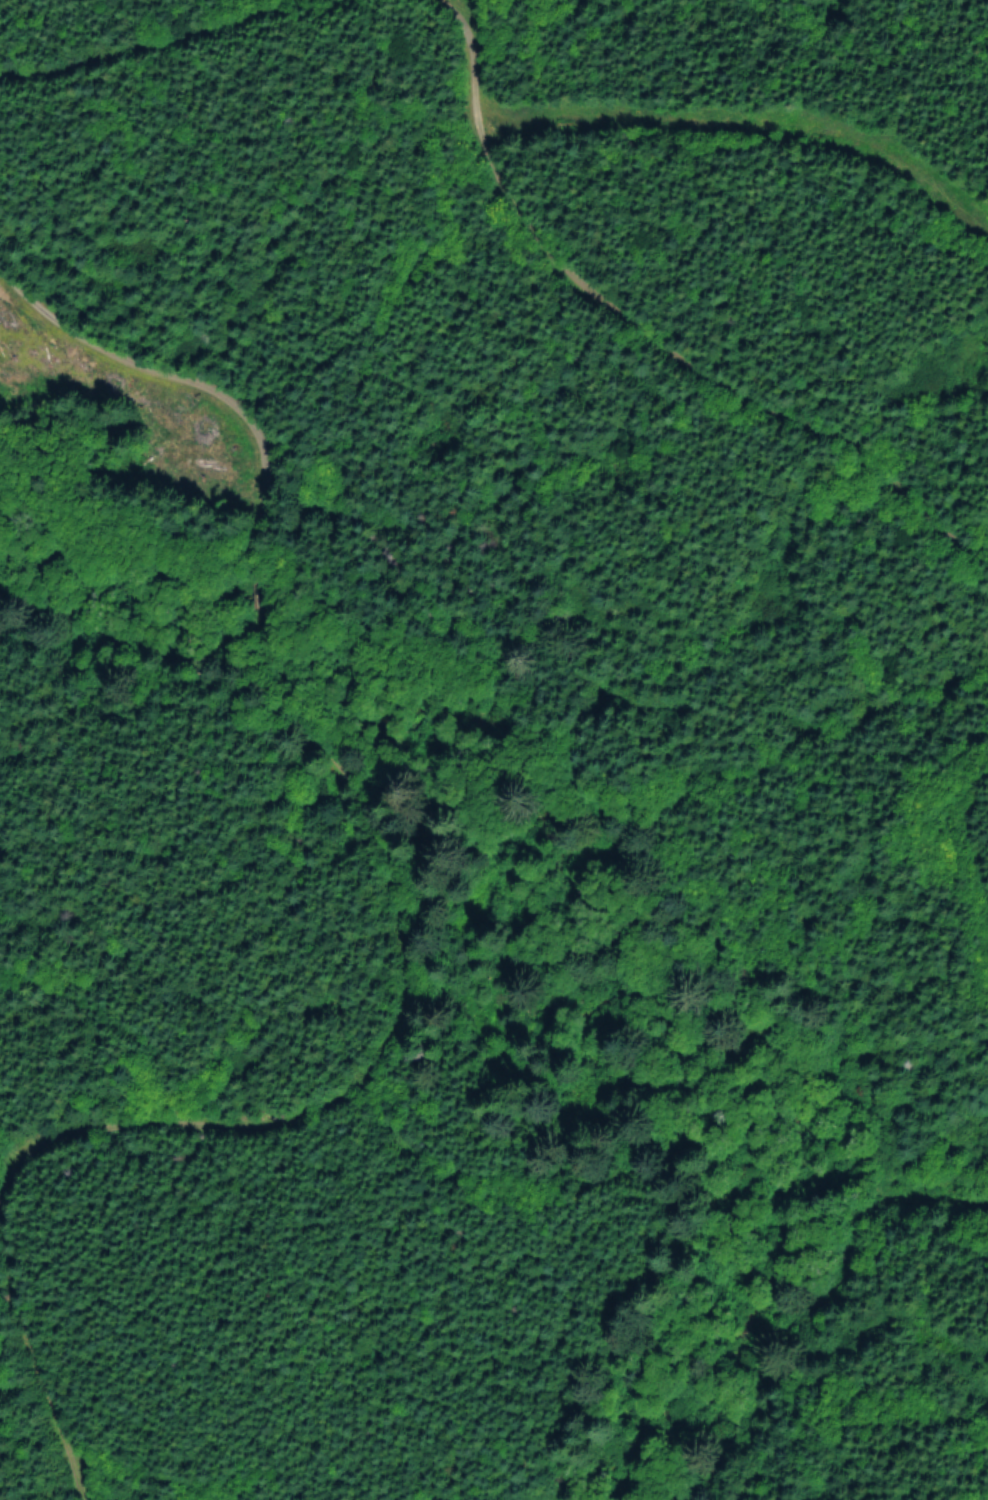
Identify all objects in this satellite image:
road: (512, 240)
road: (338, 990)

